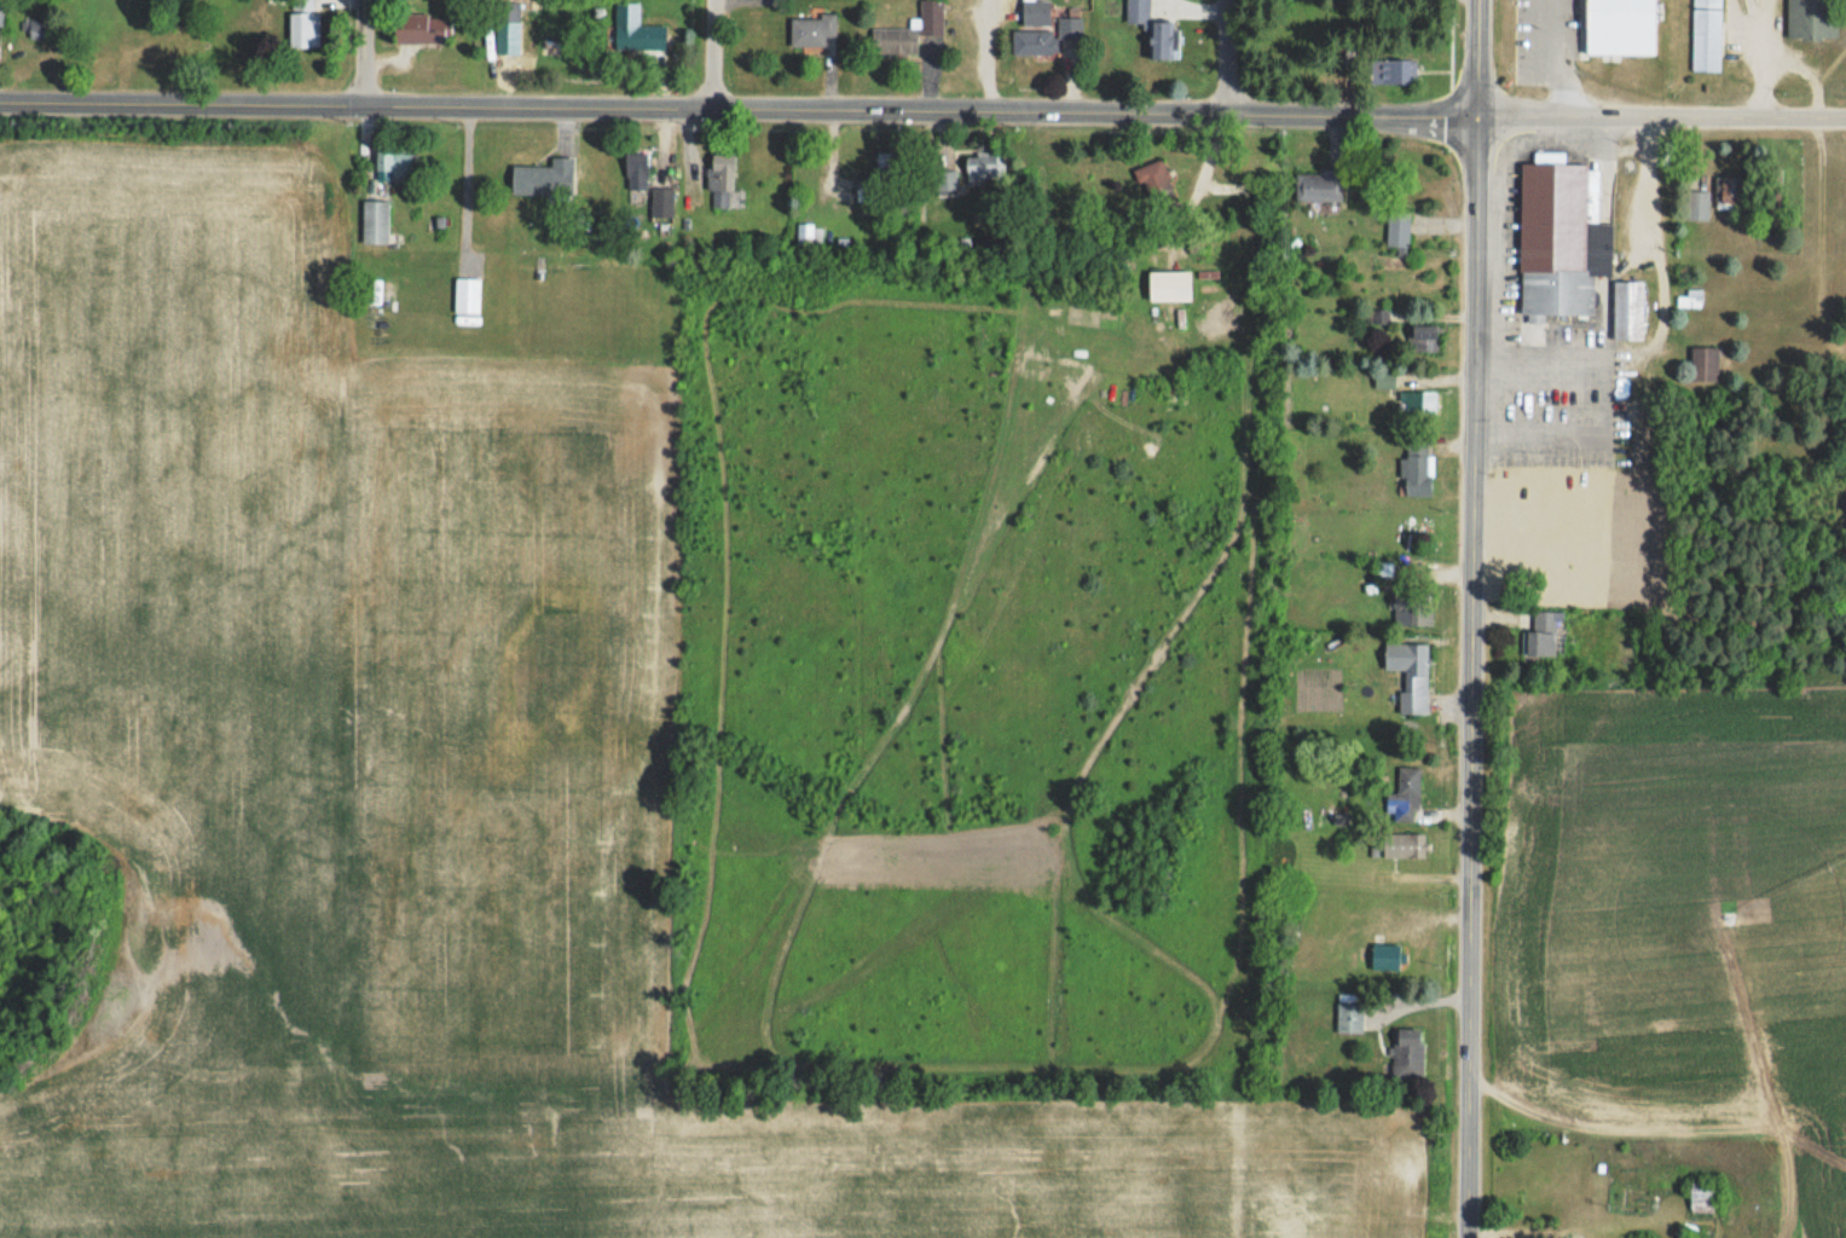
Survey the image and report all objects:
building: (508, 11)
building: (1138, 11)
building: (1036, 12)
building: (1, 13)
building: (1812, 18)
building: (1563, 19)
building: (303, 24)
building: (422, 27)
building: (40, 29)
building: (636, 29)
building: (811, 29)
building: (909, 31)
building: (1706, 35)
building: (1046, 36)
building: (1163, 39)
road: (364, 52)
road: (714, 53)
road: (1474, 53)
road: (1228, 54)
road: (1555, 56)
building: (1393, 70)
road: (736, 106)
road: (1659, 114)
building: (394, 162)
building: (984, 168)
building: (636, 169)
building: (887, 173)
building: (544, 178)
building: (721, 180)
building: (1155, 180)
building: (1318, 185)
building: (1729, 191)
building: (866, 193)
building: (661, 202)
building: (1697, 206)
building: (375, 221)
building: (1397, 227)
building: (1561, 236)
building: (1169, 285)
building: (467, 294)
building: (1628, 309)
building: (1424, 337)
building: (1705, 364)
building: (1418, 401)
building: (1416, 468)
building: (1543, 559)
building: (1412, 608)
building: (1545, 642)
road: (1469, 672)
building: (1410, 673)
building: (1404, 796)
building: (1404, 844)
building: (1387, 956)
building: (1349, 1017)
building: (1407, 1053)
building: (1701, 1197)

